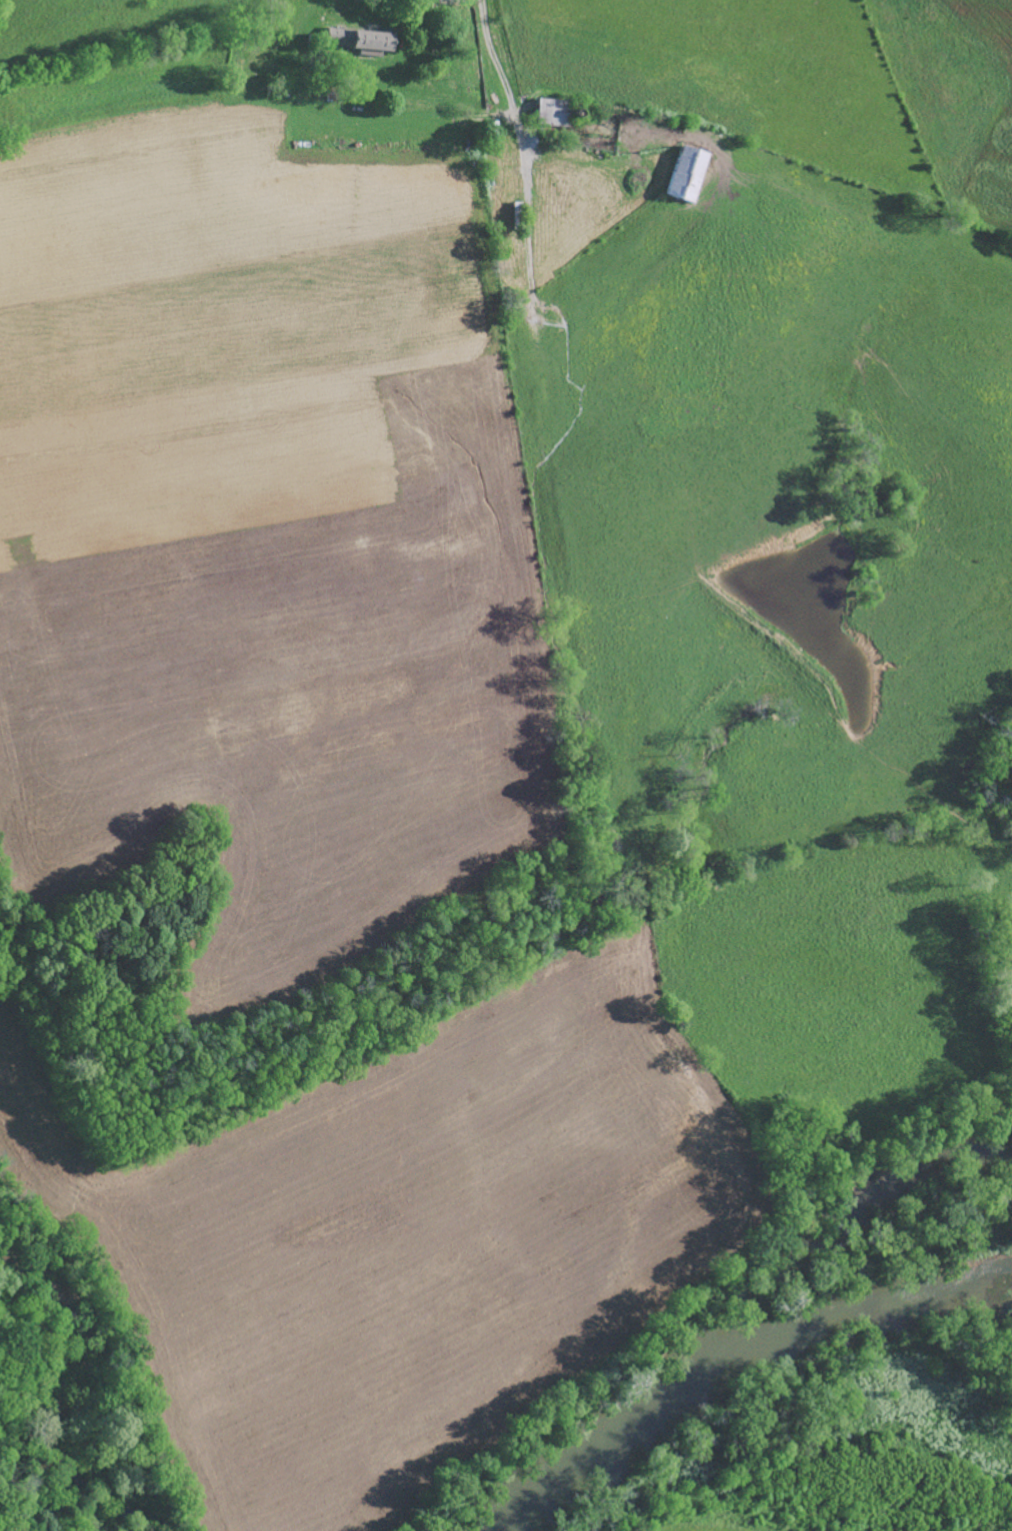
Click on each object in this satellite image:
building: (365, 43)
road: (498, 81)
building: (681, 175)
river: (731, 1358)

